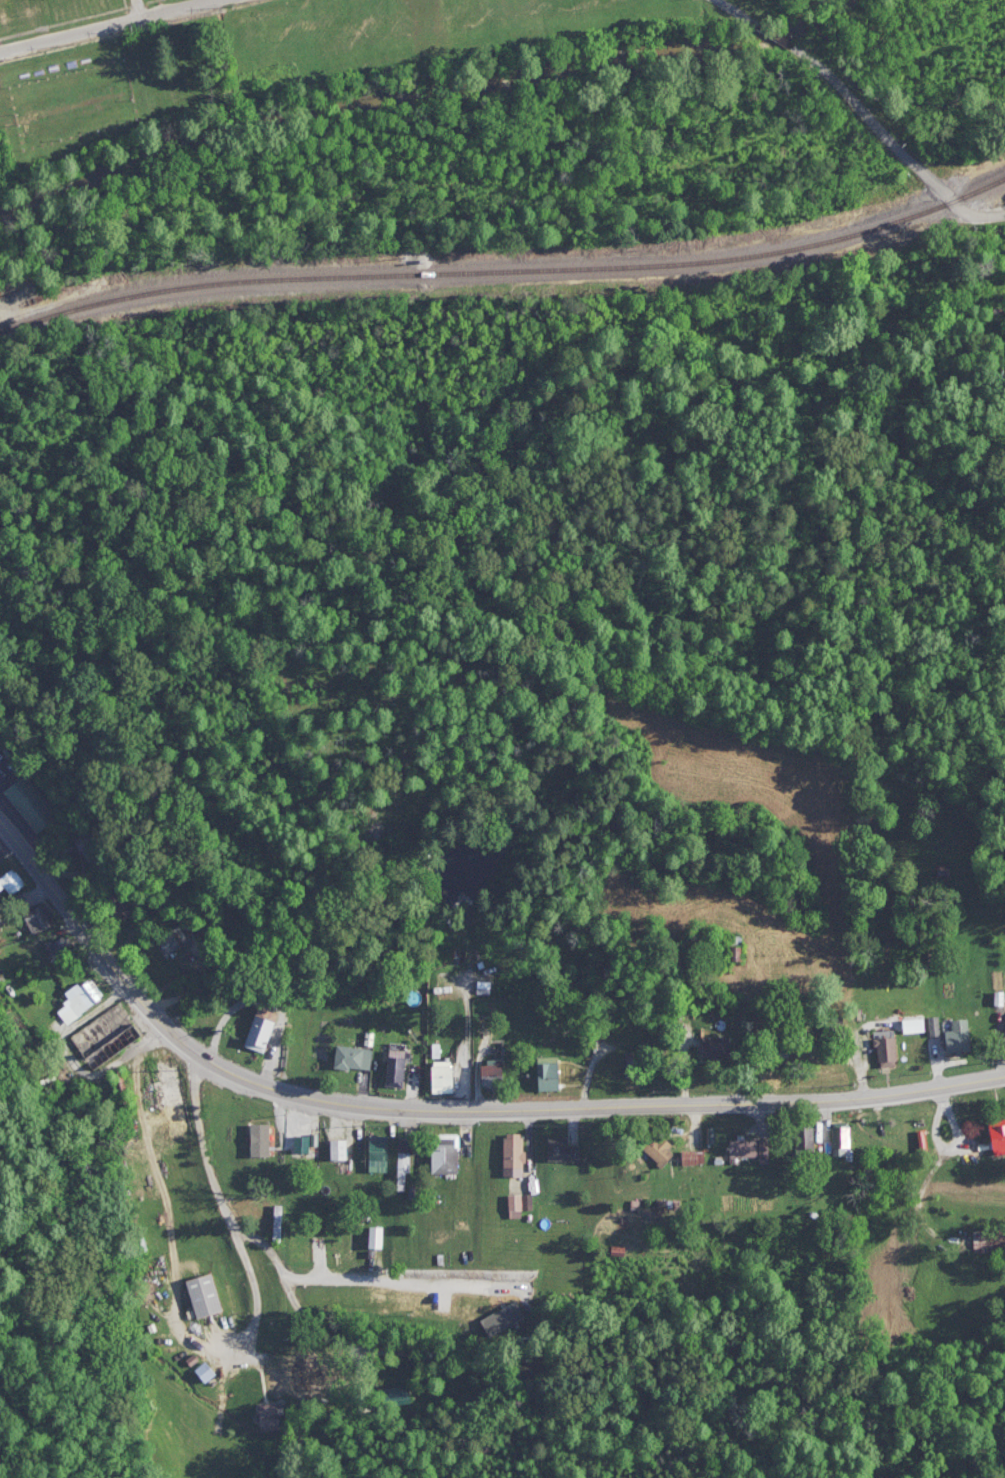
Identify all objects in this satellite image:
road: (136, 8)
road: (736, 11)
road: (104, 26)
road: (776, 36)
river: (321, 120)
road: (898, 143)
railway: (506, 268)
building: (30, 803)
building: (88, 840)
building: (12, 882)
building: (111, 911)
building: (38, 922)
building: (176, 939)
building: (736, 948)
building: (57, 949)
building: (83, 997)
building: (262, 1028)
building: (833, 1029)
building: (952, 1033)
building: (720, 1047)
building: (880, 1050)
building: (780, 1054)
building: (354, 1056)
building: (397, 1071)
building: (495, 1073)
building: (550, 1073)
building: (445, 1078)
building: (147, 1092)
road: (448, 1112)
building: (227, 1117)
building: (994, 1133)
building: (712, 1137)
building: (843, 1141)
building: (261, 1142)
building: (804, 1142)
building: (921, 1142)
building: (306, 1144)
building: (662, 1148)
building: (751, 1148)
building: (339, 1149)
building: (562, 1149)
building: (379, 1153)
building: (515, 1153)
building: (446, 1157)
building: (695, 1157)
building: (402, 1171)
road: (223, 1201)
building: (528, 1203)
building: (513, 1205)
building: (277, 1223)
building: (375, 1240)
building: (988, 1242)
road: (343, 1282)
building: (202, 1295)
building: (410, 1299)
building: (319, 1394)
building: (396, 1395)
building: (268, 1418)

